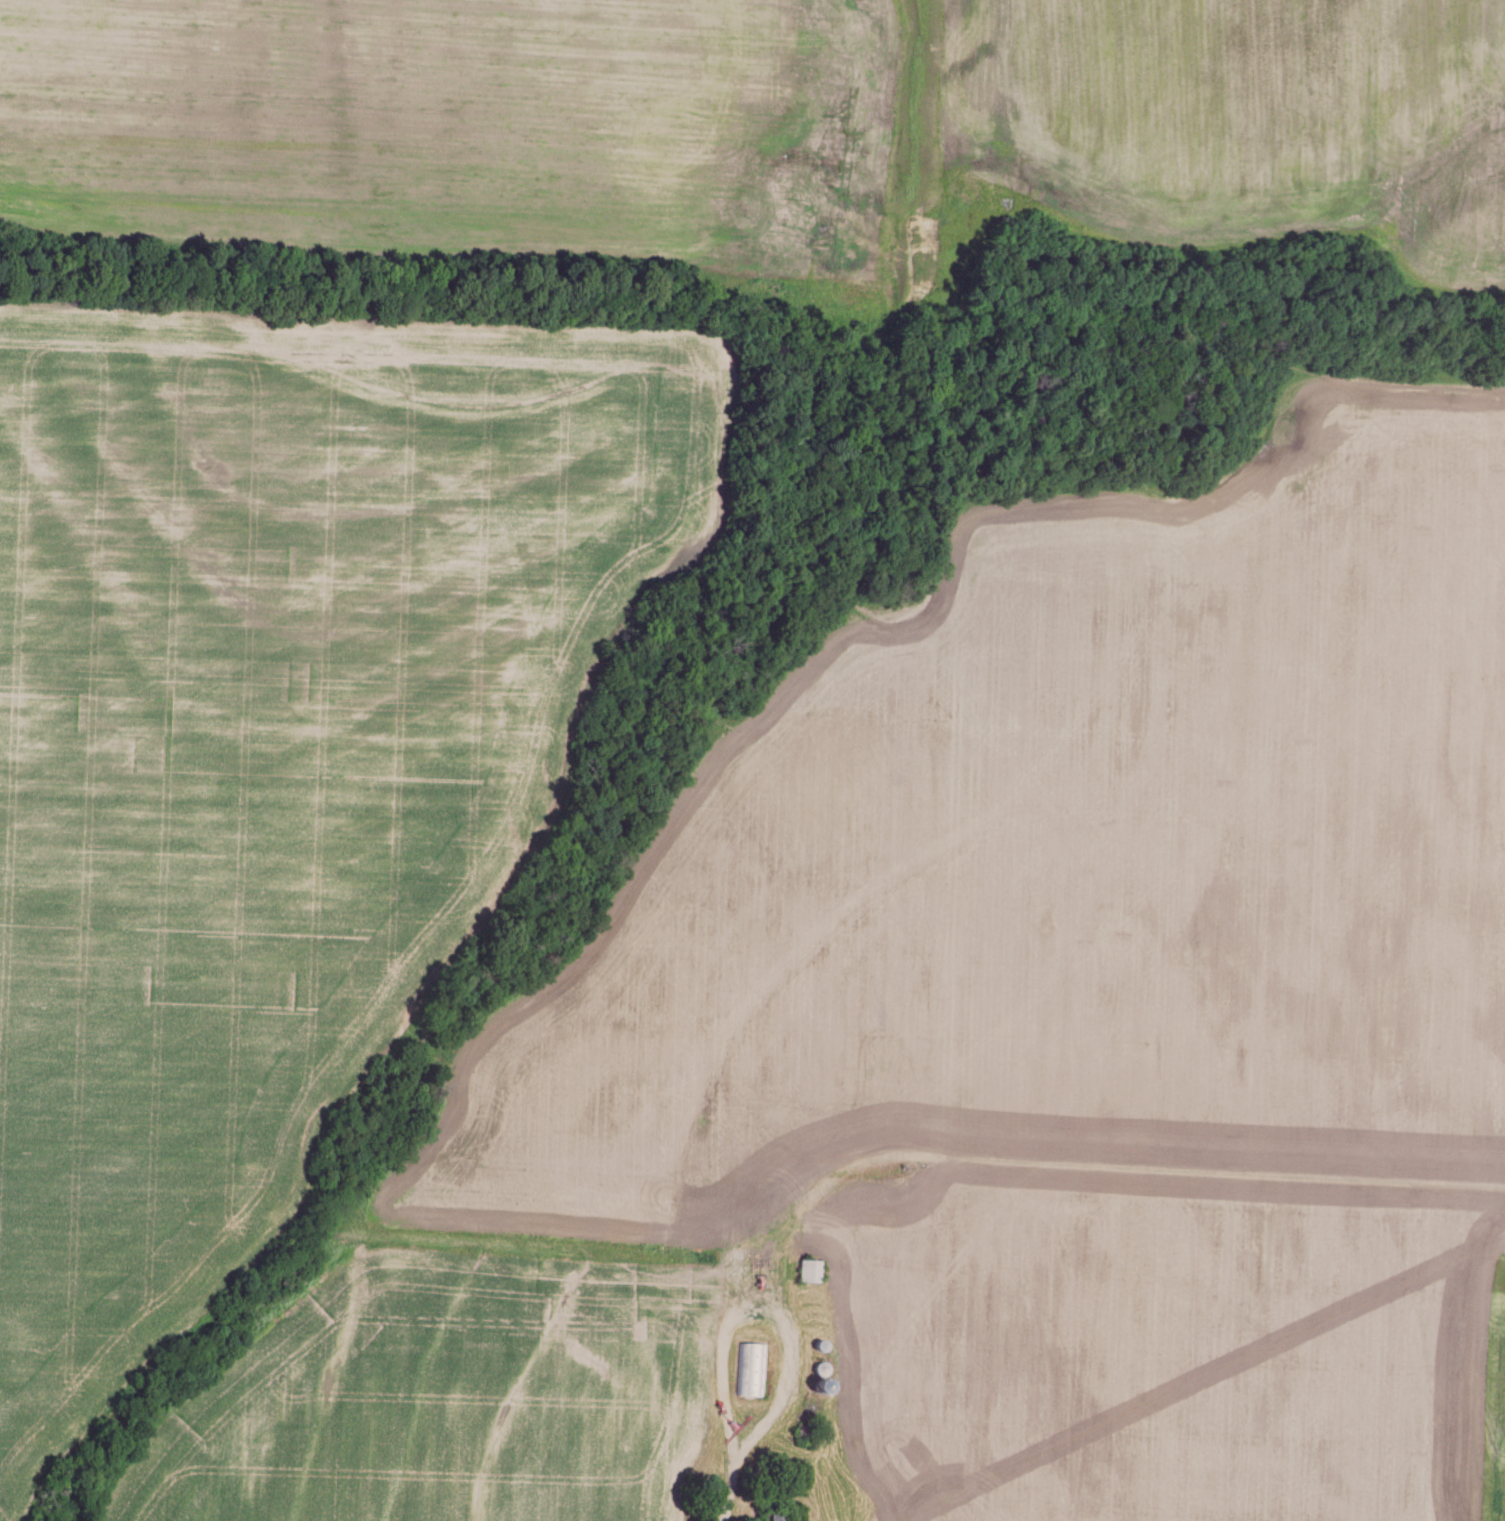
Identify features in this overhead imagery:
road: (763, 1312)
building: (750, 1365)
road: (728, 1494)

